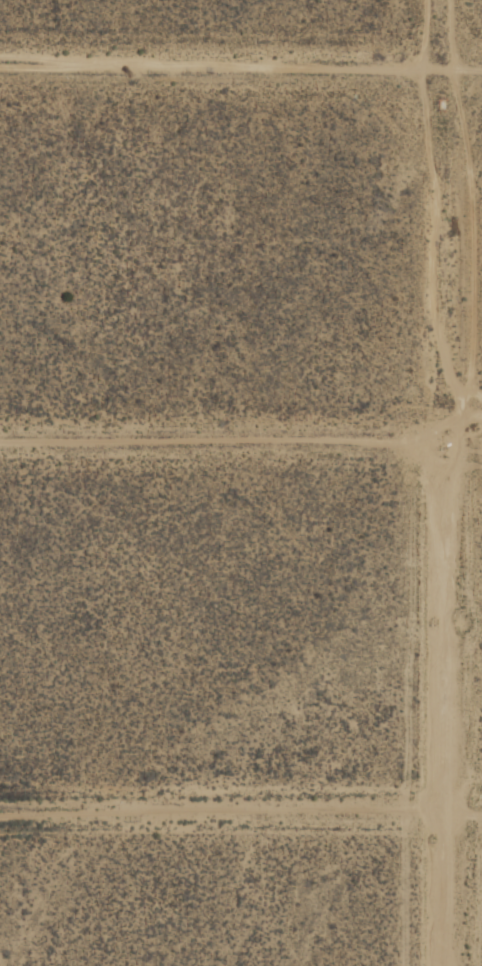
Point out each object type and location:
road: (241, 66)
road: (241, 440)
road: (452, 483)
road: (241, 810)

